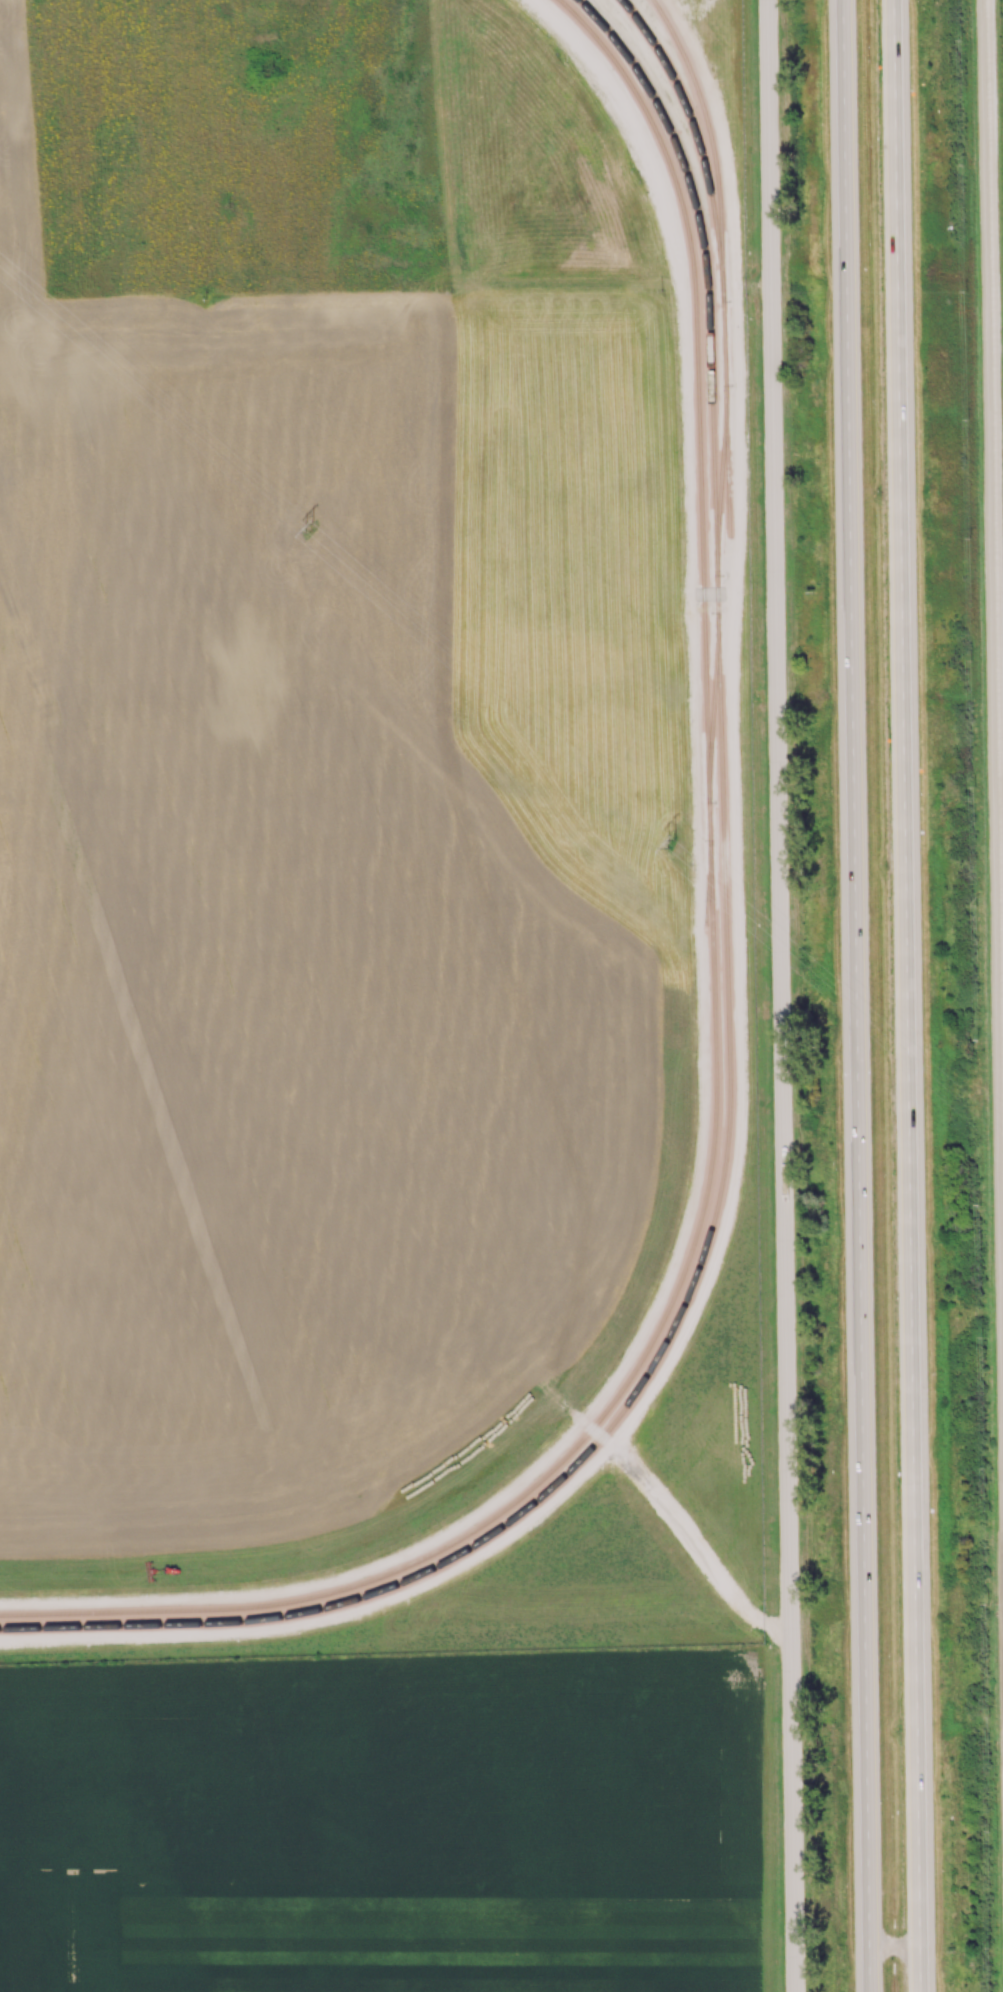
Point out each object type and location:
railway: (695, 131)
railway: (722, 262)
road: (445, 284)
railway: (720, 487)
road: (994, 523)
power tower: (312, 527)
railway: (713, 715)
power tower: (675, 845)
road: (782, 995)
road: (857, 995)
road: (910, 996)
railway: (715, 1033)
railway: (728, 1045)

